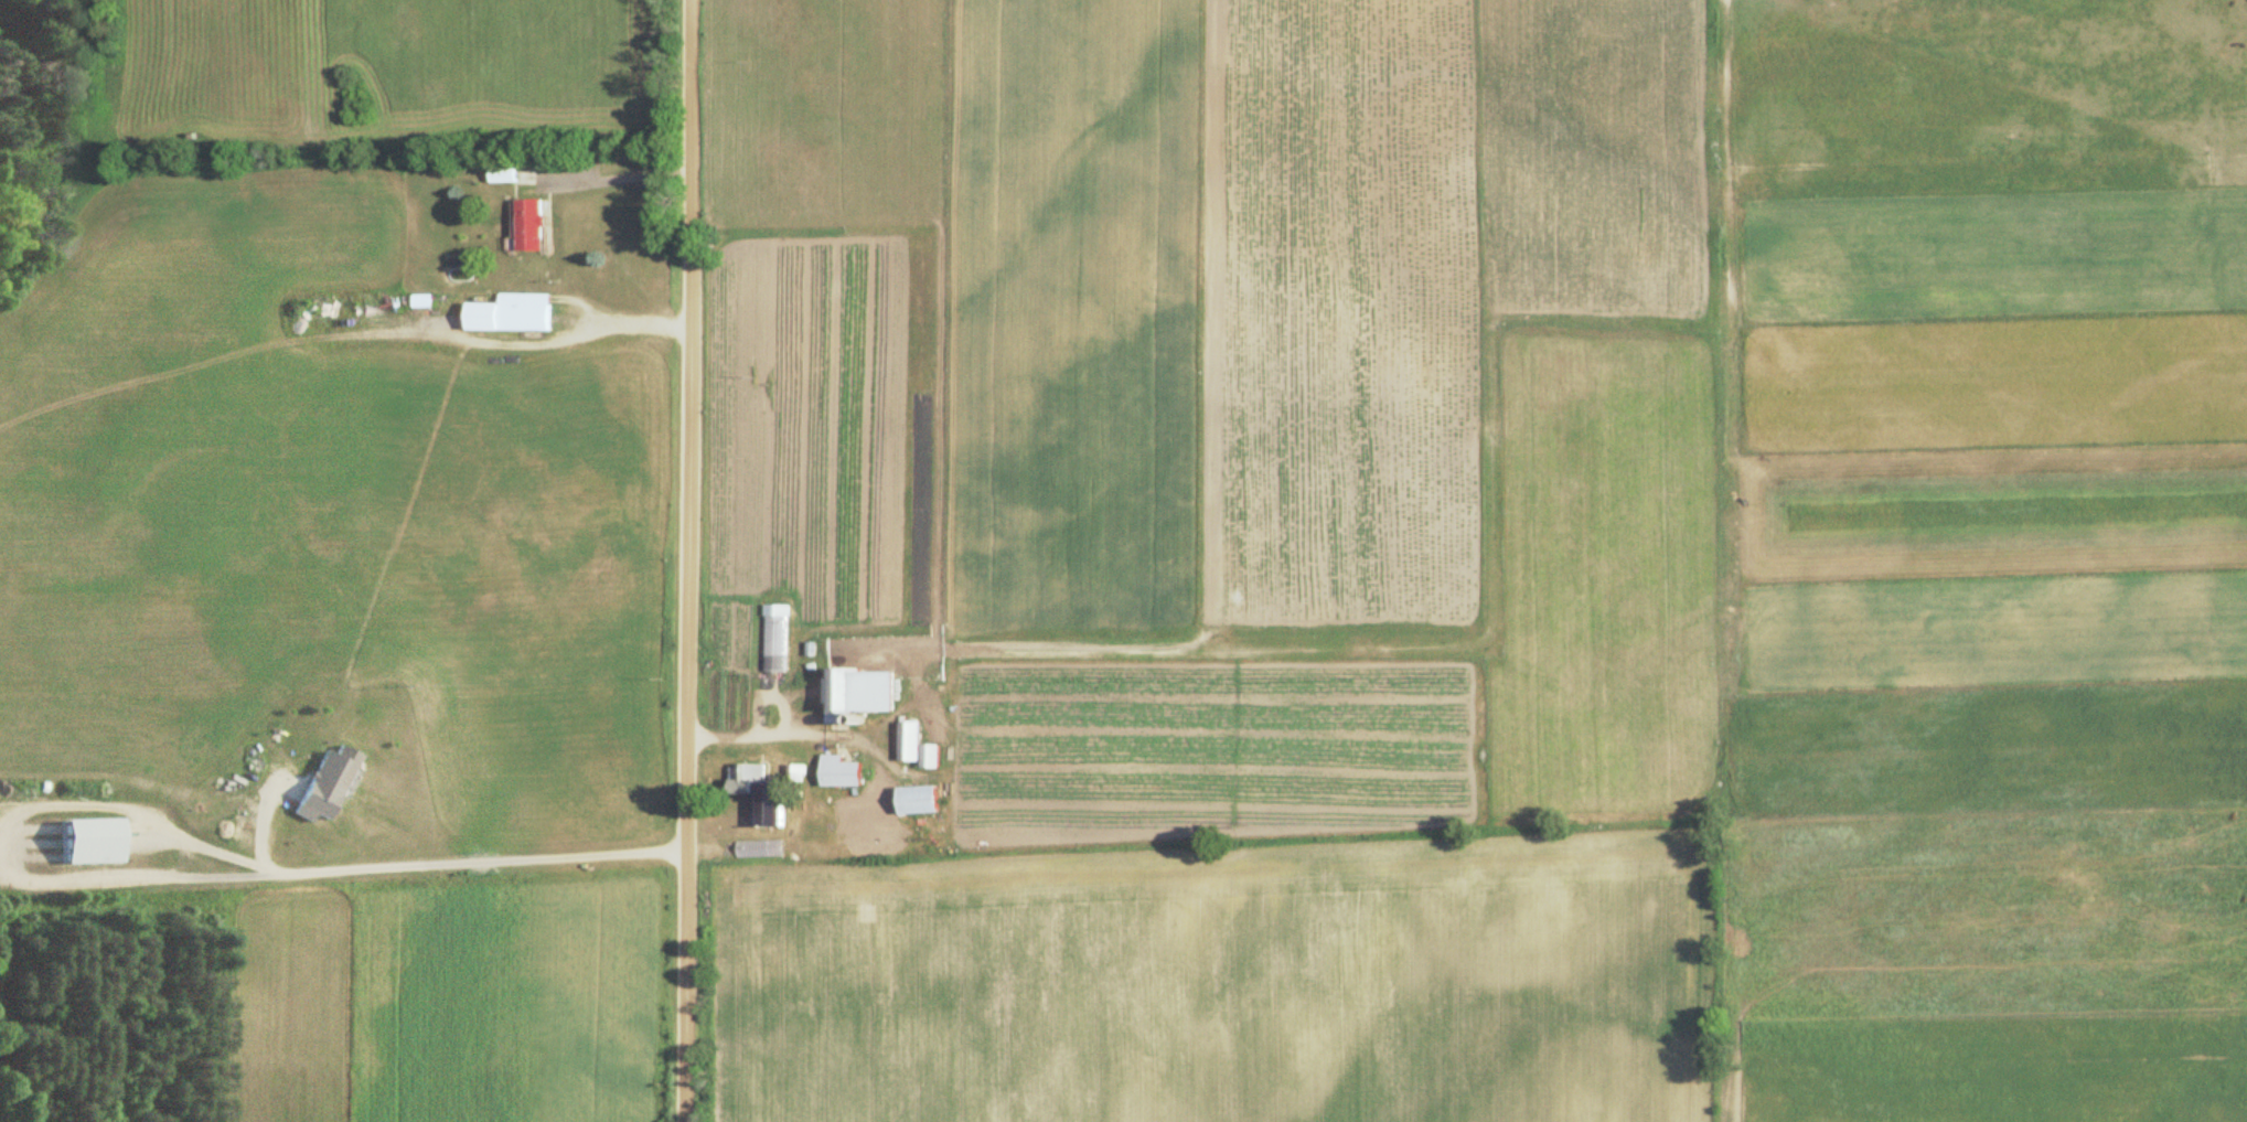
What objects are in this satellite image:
building: (497, 172)
road: (628, 173)
building: (525, 225)
building: (416, 300)
building: (504, 313)
road: (566, 335)
road: (682, 560)
building: (853, 694)
building: (903, 741)
building: (834, 772)
building: (741, 777)
building: (321, 788)
building: (910, 800)
road: (431, 866)
road: (117, 876)
crop: (1208, 986)

